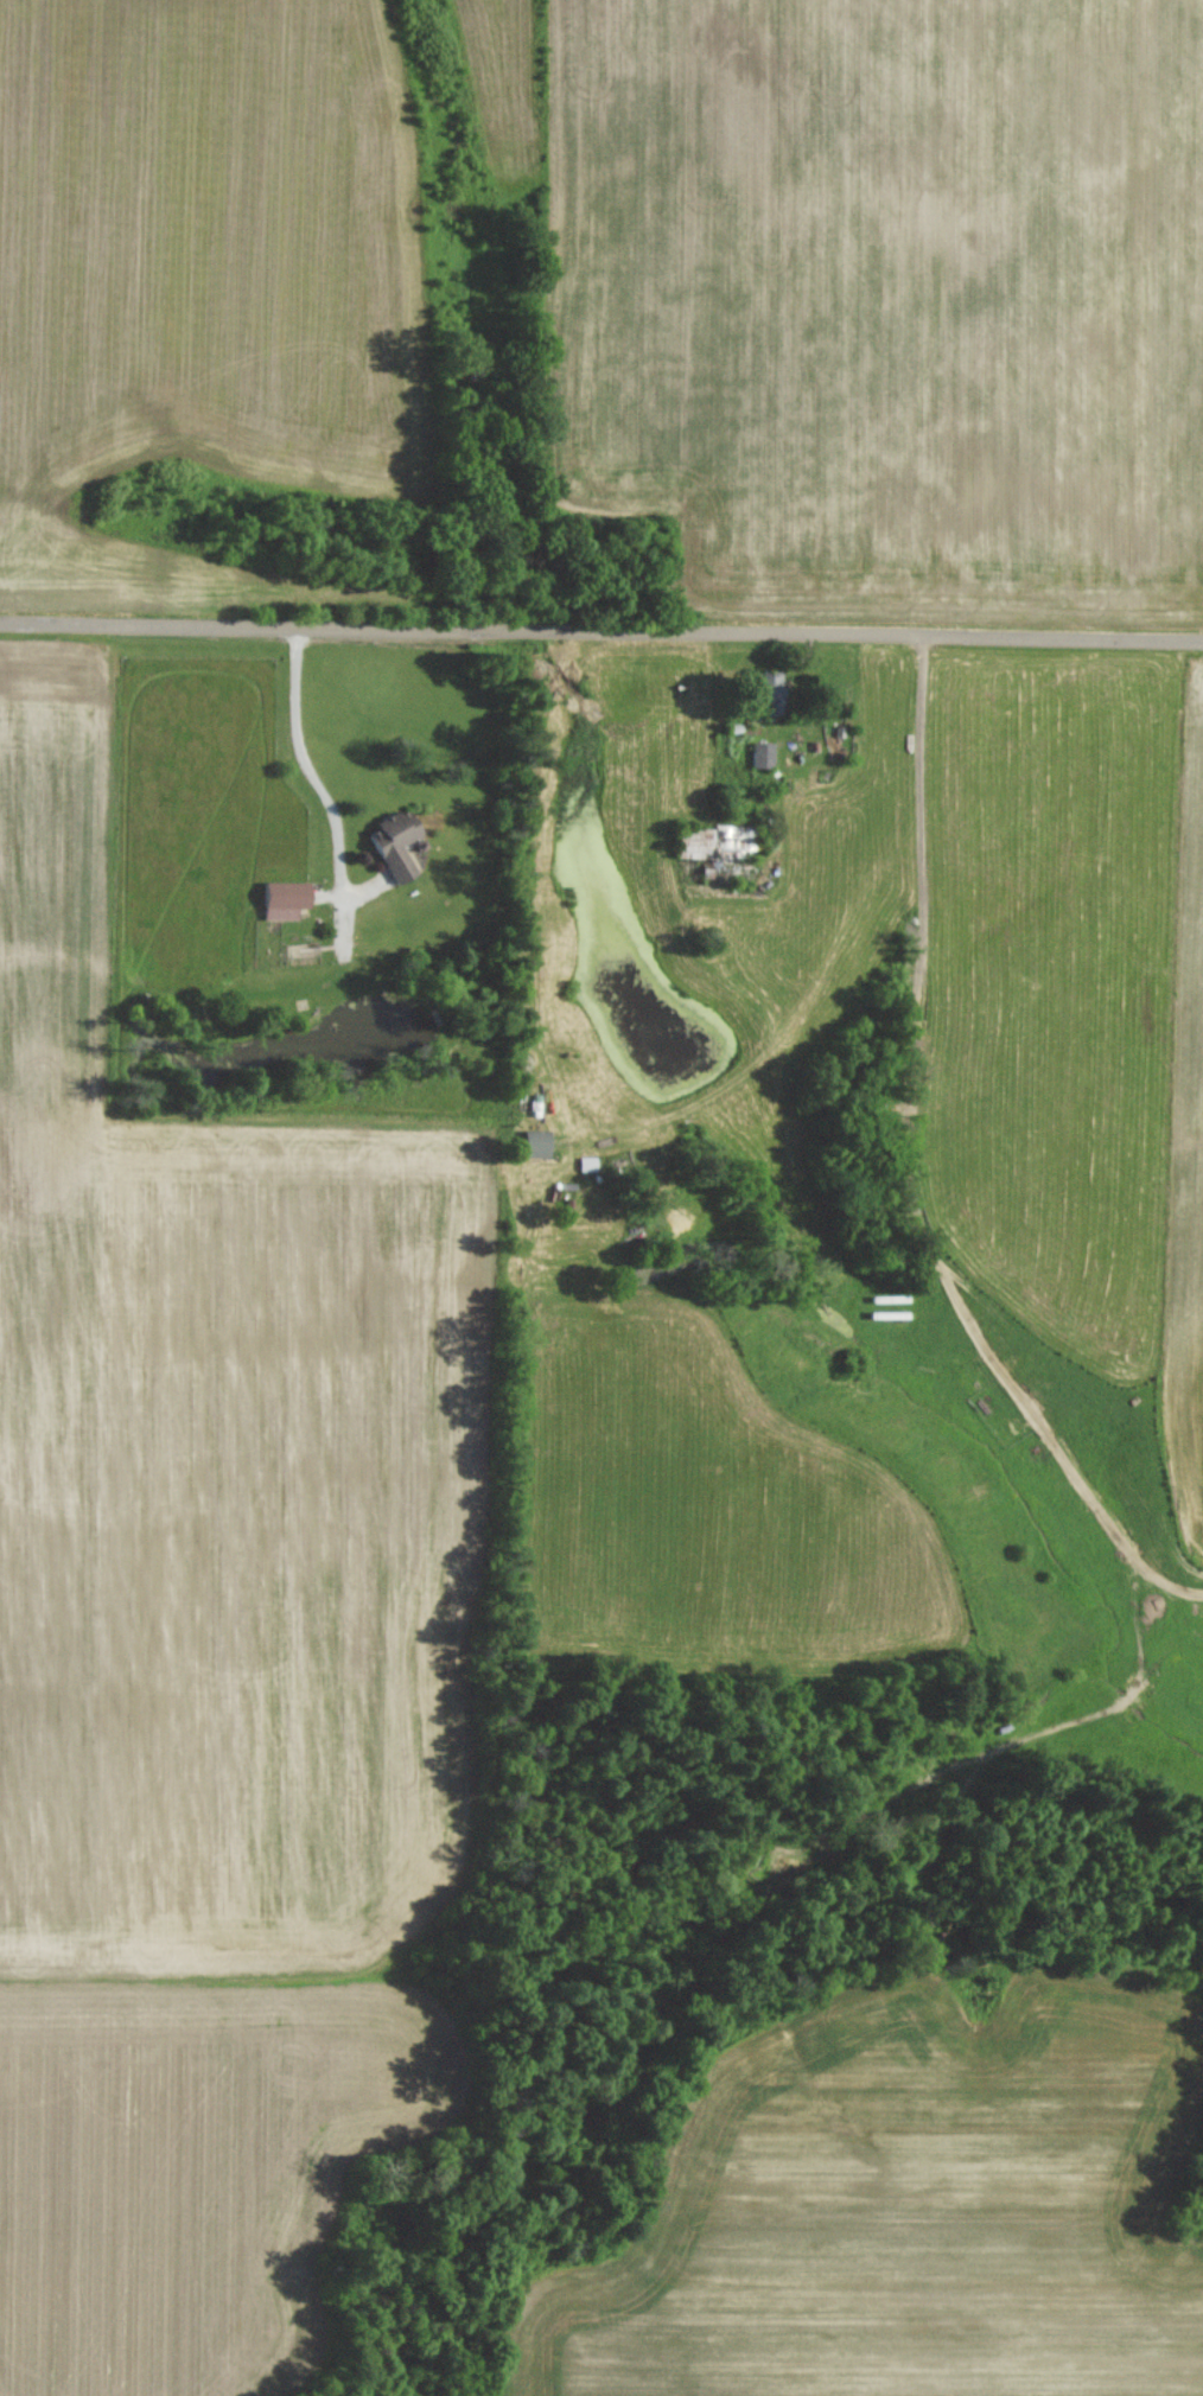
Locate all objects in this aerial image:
road: (600, 633)
building: (765, 690)
building: (760, 753)
road: (297, 765)
building: (393, 842)
road: (528, 845)
building: (281, 897)
building: (533, 1141)

